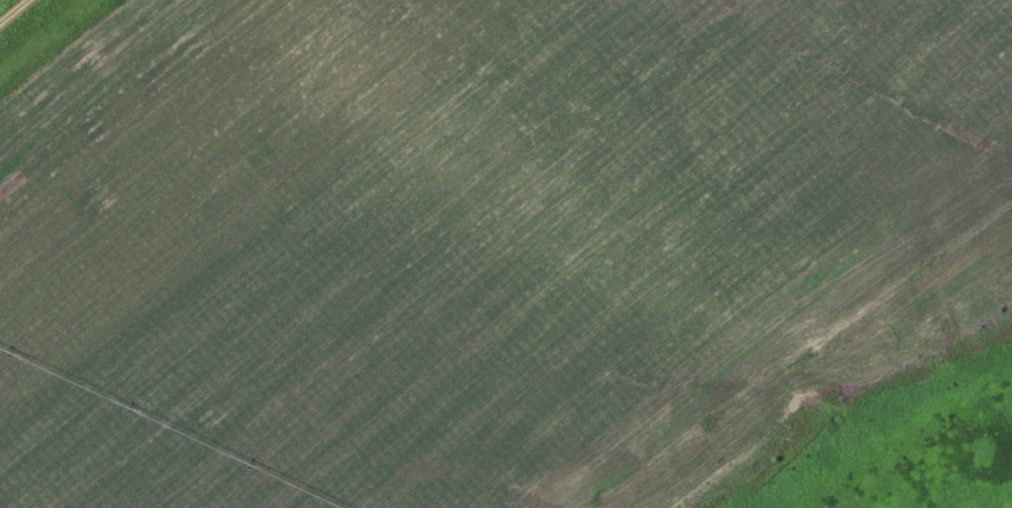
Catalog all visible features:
road: (14, 11)

